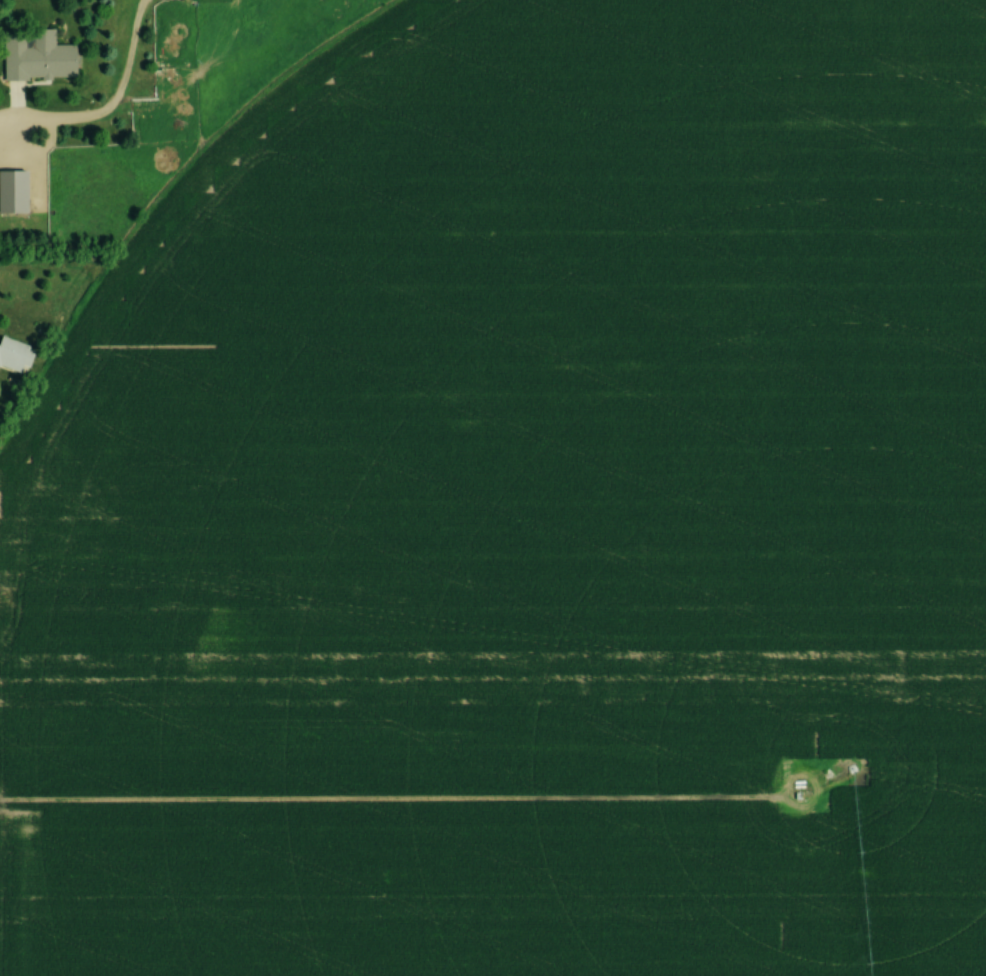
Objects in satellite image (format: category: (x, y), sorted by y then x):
building: (35, 57)
road: (13, 114)
building: (12, 192)
building: (14, 355)

